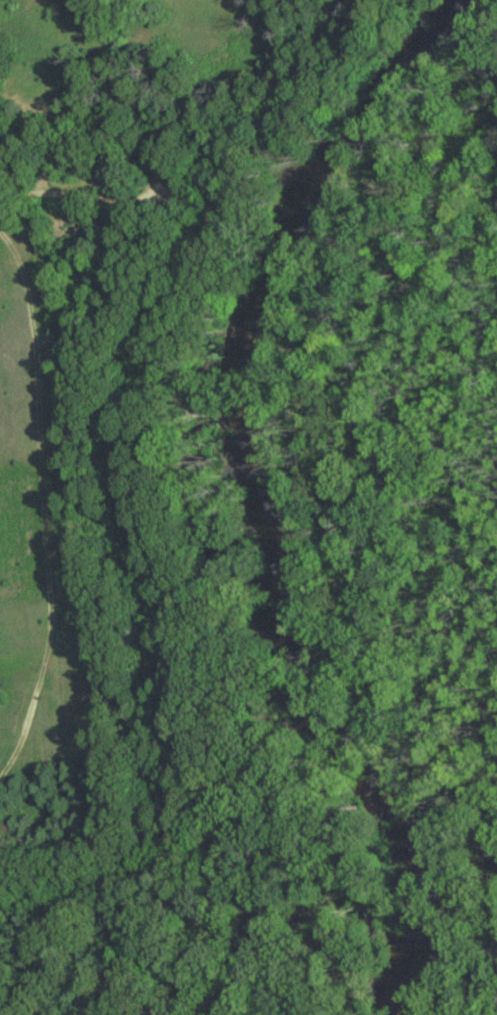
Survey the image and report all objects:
road: (80, 195)
river: (240, 487)

